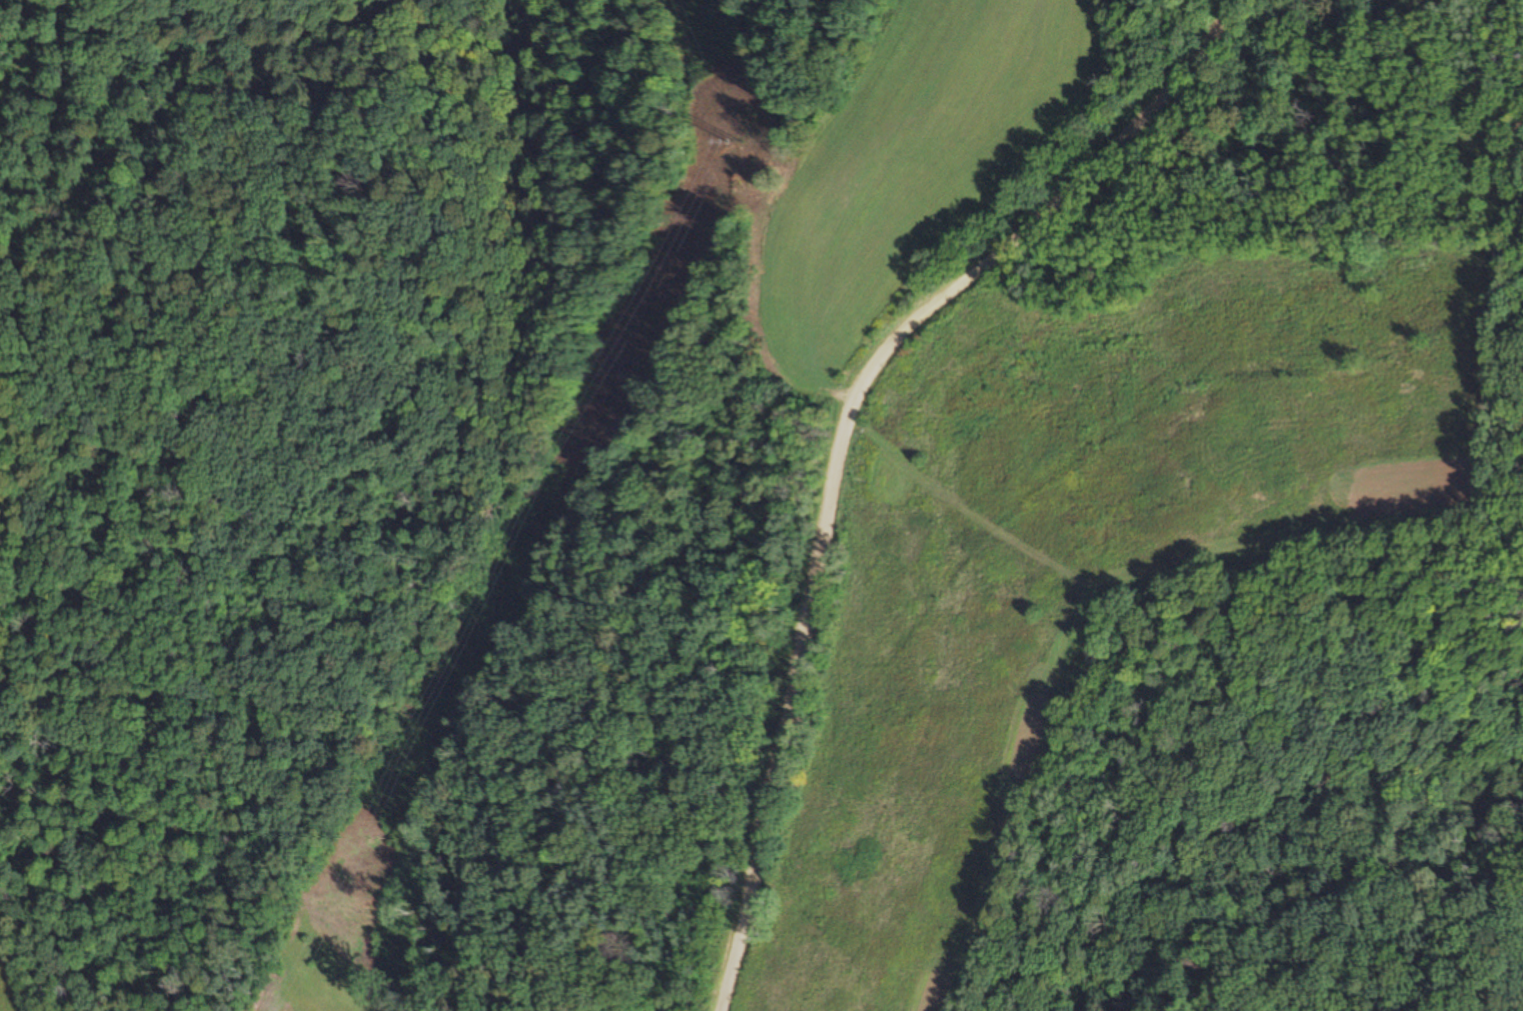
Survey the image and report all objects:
power tower: (742, 143)
road: (875, 456)

